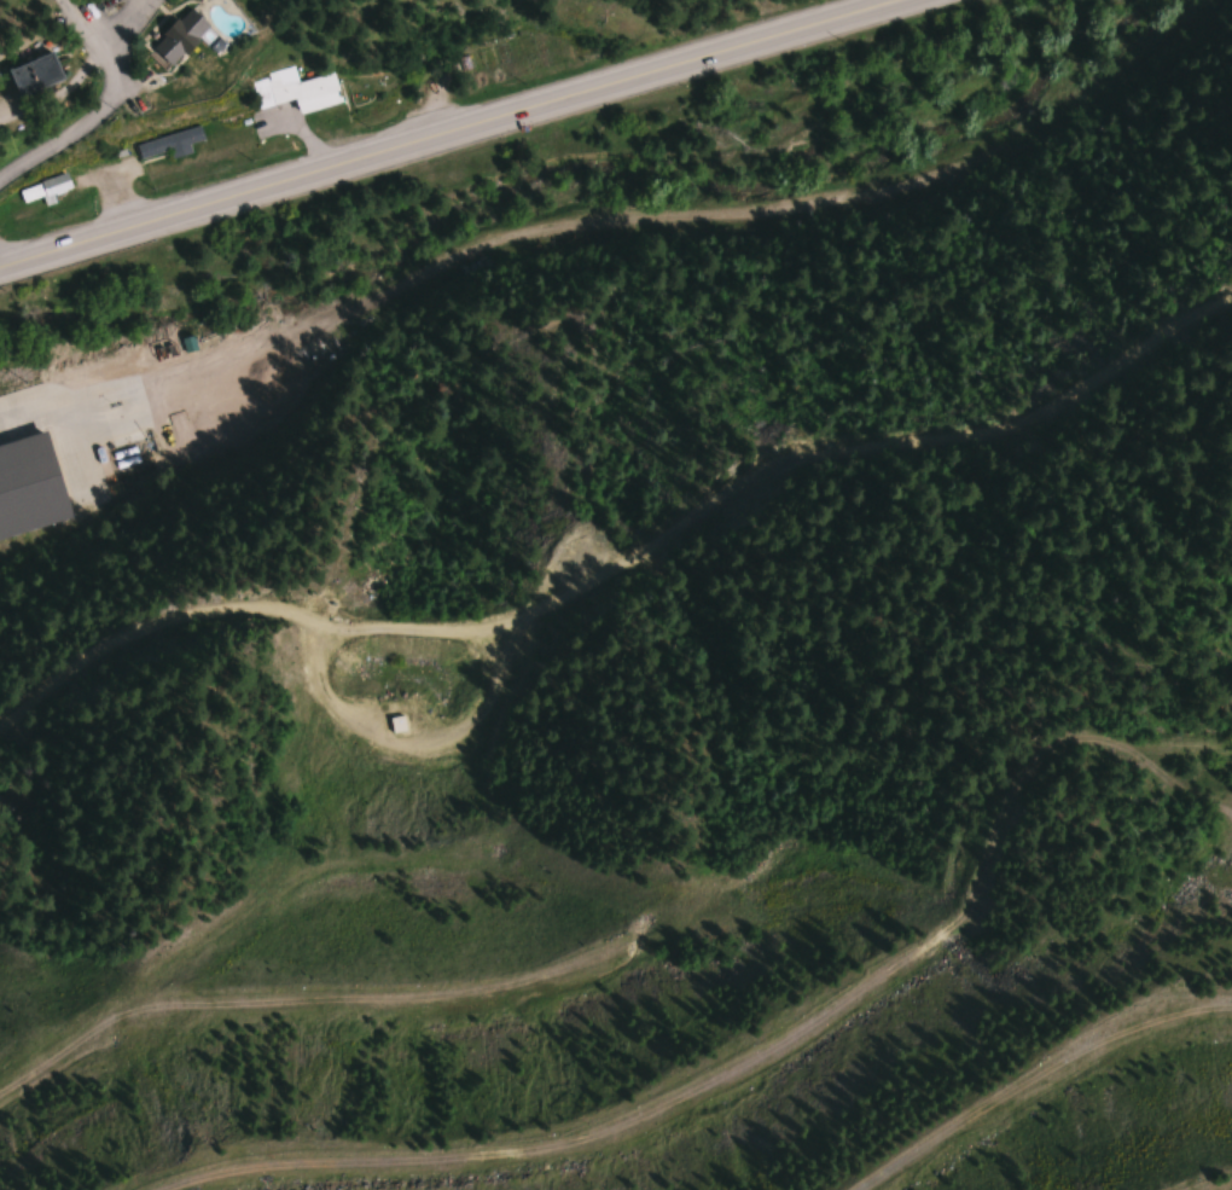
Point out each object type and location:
building: (179, 36)
building: (496, 41)
building: (33, 75)
building: (295, 89)
road: (455, 135)
building: (167, 144)
building: (45, 193)
road: (457, 252)
building: (29, 489)
road: (621, 553)
building: (396, 725)

